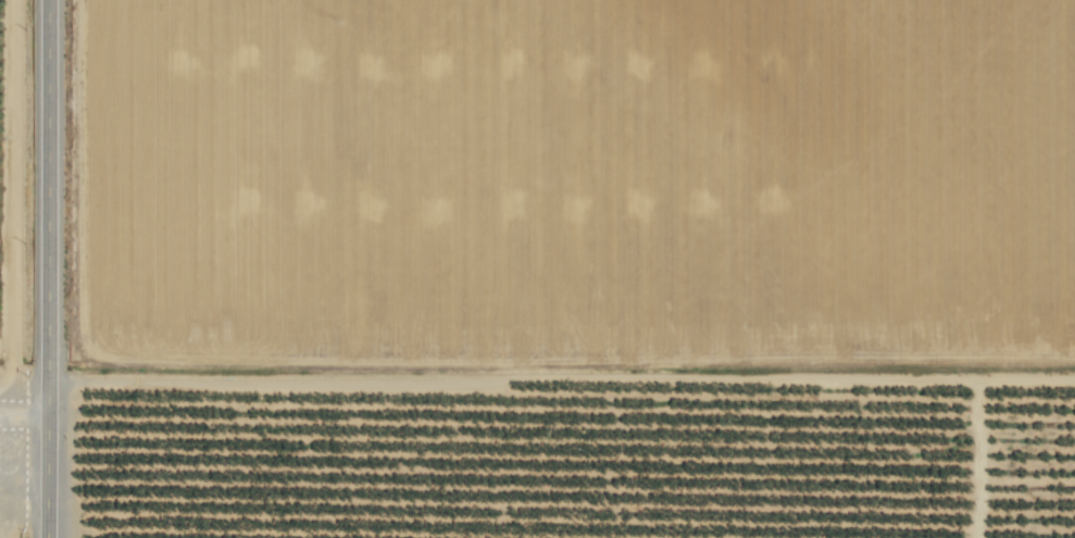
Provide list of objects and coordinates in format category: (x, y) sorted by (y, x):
road: (51, 268)
road: (25, 415)

